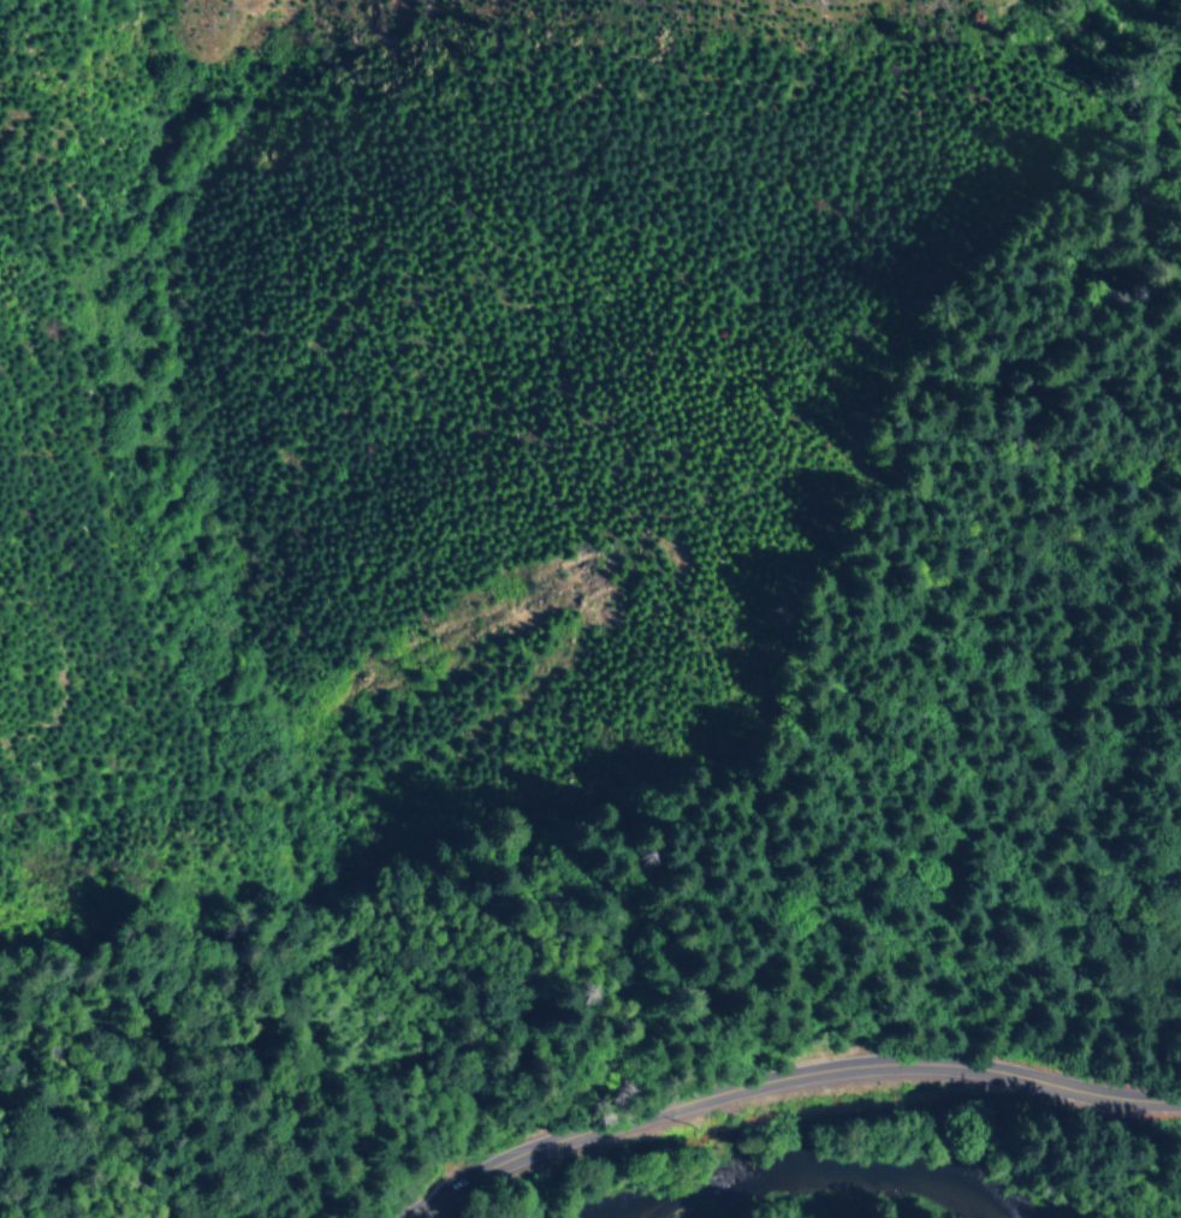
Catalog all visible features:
road: (777, 1080)
river: (767, 1188)

